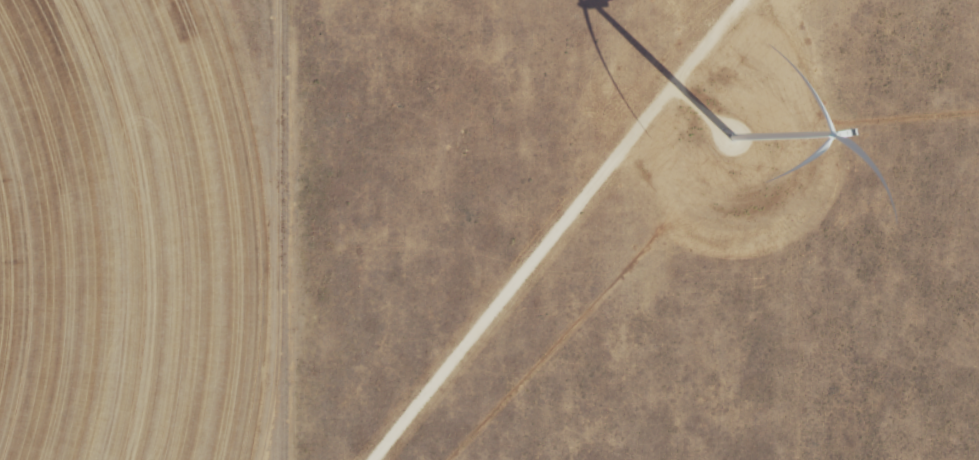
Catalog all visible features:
wind turbine: (730, 137)

